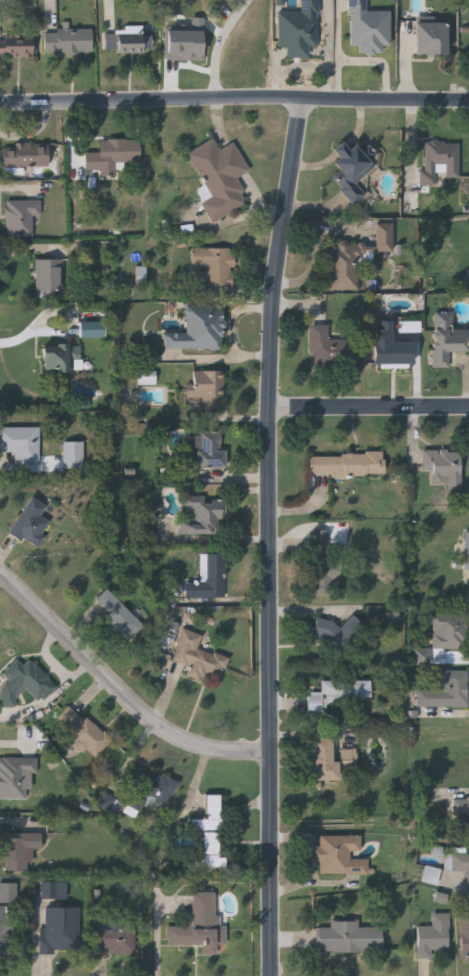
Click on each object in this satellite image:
building: (368, 28)
building: (298, 30)
building: (431, 40)
building: (67, 41)
building: (126, 42)
building: (17, 43)
road: (219, 45)
road: (234, 100)
building: (25, 154)
building: (114, 154)
building: (439, 160)
building: (352, 168)
building: (219, 176)
building: (21, 216)
building: (354, 259)
building: (214, 264)
building: (47, 274)
building: (198, 329)
road: (32, 334)
building: (446, 338)
building: (330, 348)
building: (390, 349)
building: (61, 356)
building: (207, 388)
road: (369, 408)
building: (21, 443)
building: (211, 448)
building: (73, 454)
building: (346, 464)
building: (442, 465)
building: (204, 515)
building: (30, 523)
road: (269, 536)
building: (466, 550)
building: (321, 563)
building: (207, 579)
building: (117, 615)
building: (335, 631)
building: (450, 631)
building: (198, 657)
building: (24, 681)
road: (119, 688)
building: (444, 689)
building: (338, 692)
road: (455, 713)
building: (82, 730)
building: (323, 760)
building: (152, 784)
building: (134, 802)
building: (461, 804)
building: (210, 829)
building: (20, 851)
building: (337, 855)
building: (461, 865)
building: (200, 926)
building: (60, 929)
building: (6, 932)
building: (432, 934)
road: (159, 935)
building: (465, 935)
building: (114, 938)
building: (348, 938)

